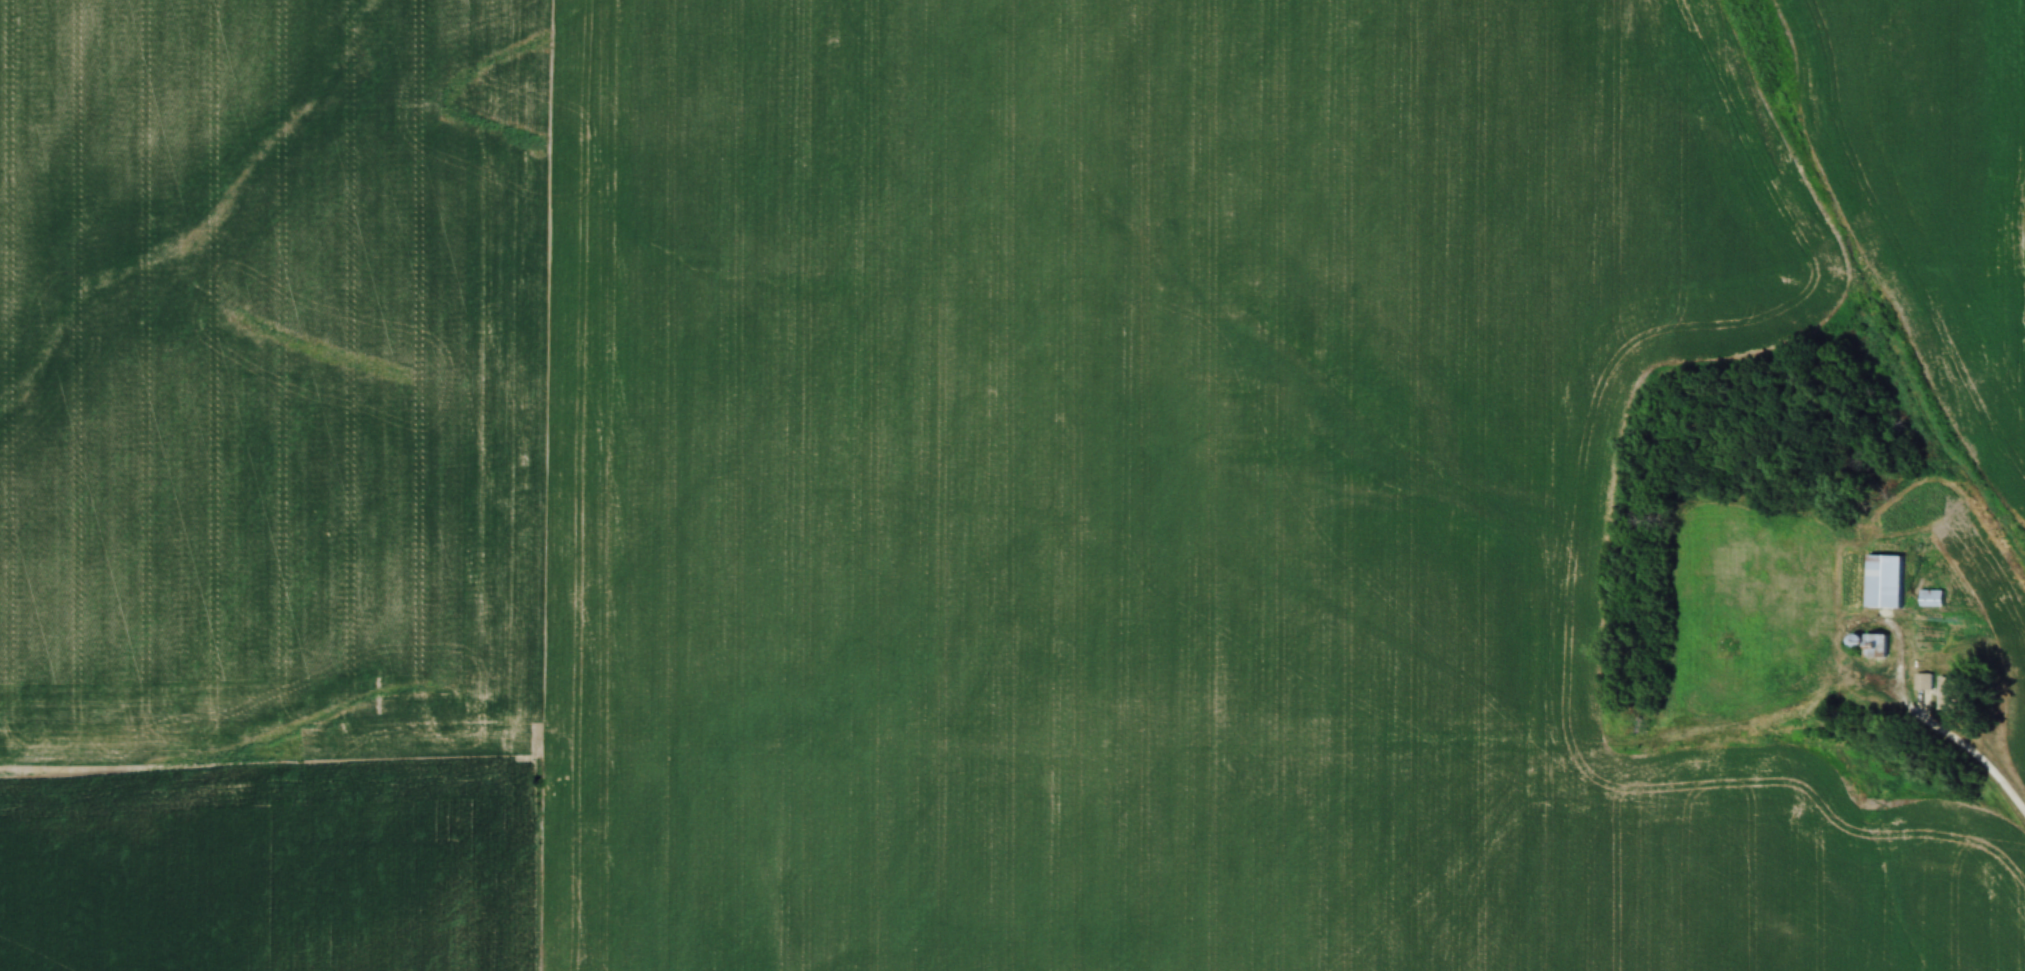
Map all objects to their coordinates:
building: (1893, 582)
road: (1940, 734)

